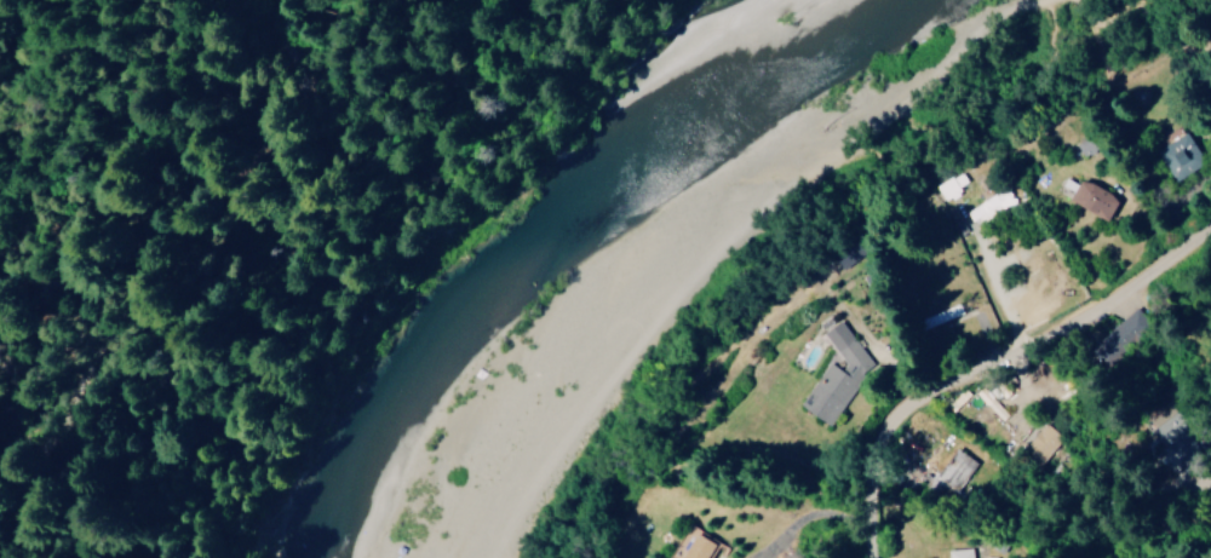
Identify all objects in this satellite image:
building: (1178, 156)
building: (954, 186)
building: (1097, 199)
building: (993, 206)
road: (223, 215)
river: (532, 238)
road: (976, 340)
building: (839, 372)
building: (1189, 441)
building: (958, 470)
building: (695, 546)
building: (962, 553)
road: (705, 556)

